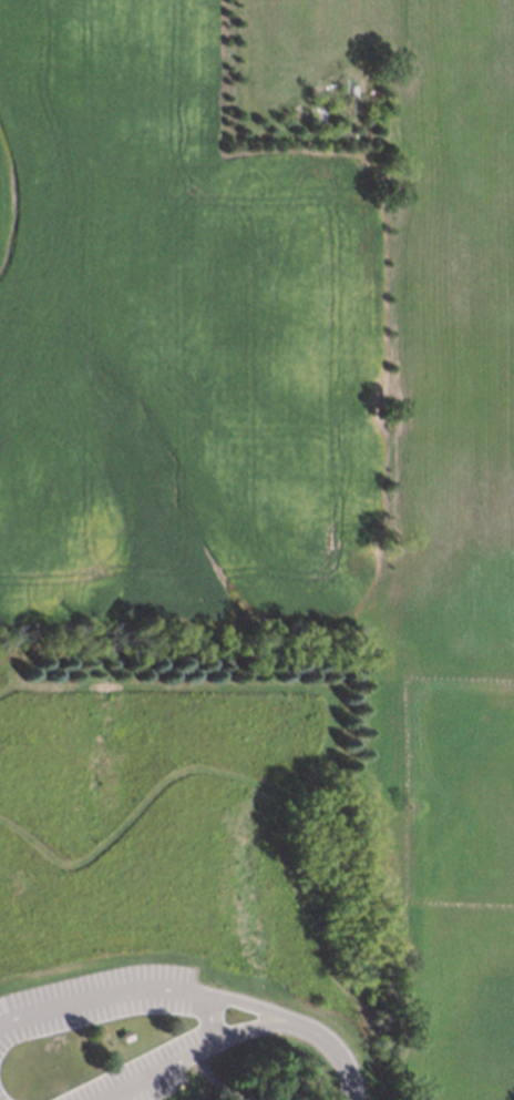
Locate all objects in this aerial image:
road: (7, 689)
road: (326, 766)
park: (199, 876)
road: (146, 988)
parking lot: (96, 1011)
road: (336, 1050)
road: (195, 1051)
parking lot: (137, 1067)
parking lot: (3, 1096)

